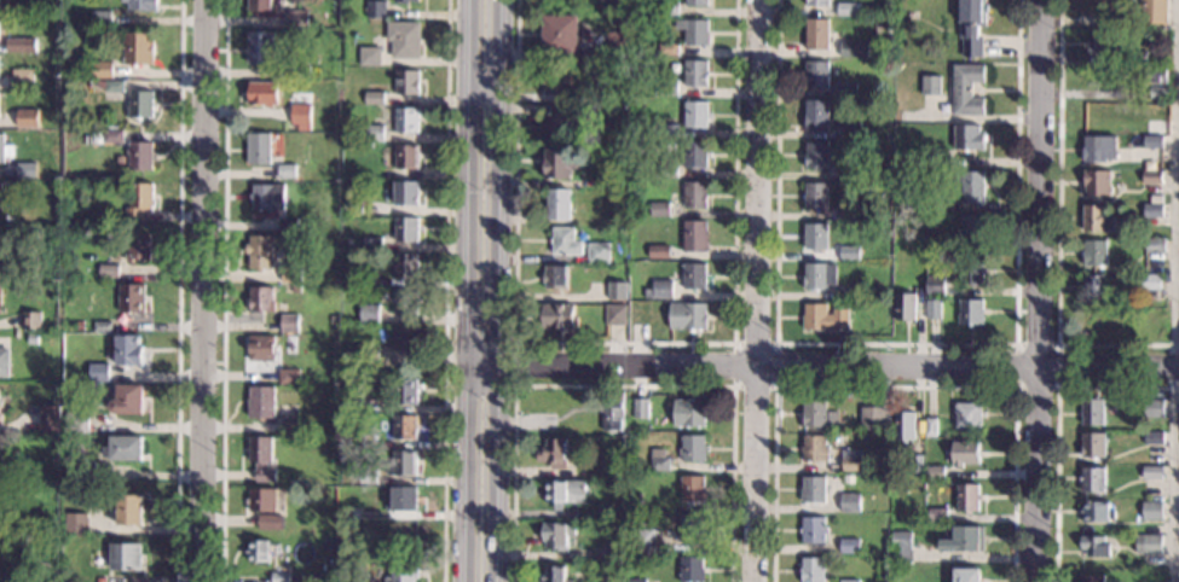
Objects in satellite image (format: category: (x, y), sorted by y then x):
building: (1126, 0)
building: (0, 1)
building: (405, 1)
building: (617, 2)
building: (695, 2)
building: (817, 2)
building: (143, 5)
building: (261, 5)
building: (17, 7)
building: (667, 7)
building: (376, 8)
building: (846, 8)
building: (1151, 11)
building: (102, 18)
building: (300, 18)
building: (971, 25)
building: (880, 29)
building: (694, 31)
building: (560, 34)
building: (817, 34)
building: (405, 39)
building: (1105, 41)
building: (17, 43)
building: (617, 46)
building: (139, 47)
building: (264, 47)
building: (667, 48)
building: (853, 48)
building: (335, 52)
building: (370, 56)
building: (1138, 57)
building: (103, 69)
building: (301, 71)
building: (694, 72)
building: (816, 74)
building: (1152, 74)
building: (559, 76)
building: (23, 78)
building: (408, 82)
building: (110, 85)
building: (931, 85)
building: (665, 87)
building: (966, 89)
building: (1158, 92)
building: (264, 93)
building: (848, 93)
building: (589, 94)
building: (375, 97)
building: (140, 104)
building: (1150, 107)
building: (1099, 112)
building: (301, 114)
building: (695, 114)
building: (816, 115)
building: (28, 117)
building: (408, 120)
building: (556, 122)
building: (664, 130)
building: (849, 130)
building: (374, 132)
building: (112, 135)
building: (967, 136)
building: (619, 139)
building: (1152, 141)
building: (259, 147)
building: (5, 149)
building: (1099, 149)
building: (694, 153)
building: (140, 155)
building: (815, 155)
building: (409, 156)
building: (636, 158)
building: (938, 161)
building: (559, 162)
building: (27, 169)
building: (659, 169)
building: (288, 170)
building: (855, 171)
building: (1151, 176)
building: (617, 179)
building: (637, 181)
building: (677, 182)
building: (1097, 182)
building: (971, 186)
building: (408, 192)
building: (618, 192)
building: (1, 194)
building: (690, 194)
building: (815, 194)
building: (268, 196)
building: (923, 198)
building: (139, 200)
building: (560, 204)
building: (353, 206)
building: (659, 209)
building: (1152, 210)
building: (844, 211)
building: (6, 219)
building: (1097, 219)
building: (288, 223)
building: (971, 227)
building: (406, 228)
road: (1058, 233)
building: (694, 235)
building: (815, 235)
building: (372, 241)
building: (566, 241)
building: (347, 243)
building: (941, 243)
building: (135, 245)
building: (1155, 245)
building: (261, 251)
building: (658, 251)
building: (597, 252)
building: (1094, 252)
building: (851, 254)
building: (406, 264)
building: (108, 269)
building: (972, 269)
building: (293, 273)
building: (557, 275)
building: (694, 275)
building: (819, 275)
building: (370, 279)
building: (1150, 281)
building: (934, 285)
building: (1093, 287)
building: (296, 289)
building: (658, 289)
road: (445, 290)
road: (497, 290)
building: (615, 290)
road: (1041, 290)
road: (180, 291)
road: (204, 291)
road: (224, 291)
road: (468, 291)
road: (757, 291)
building: (846, 292)
building: (1, 297)
building: (132, 297)
building: (262, 298)
building: (406, 302)
building: (903, 305)
building: (932, 309)
building: (971, 312)
building: (369, 313)
building: (614, 314)
building: (559, 315)
building: (686, 315)
building: (823, 318)
building: (1152, 318)
building: (333, 319)
building: (31, 320)
building: (1104, 320)
building: (290, 322)
building: (103, 326)
building: (406, 337)
building: (33, 338)
road: (624, 344)
road: (895, 345)
building: (262, 347)
building: (129, 350)
building: (369, 351)
building: (5, 361)
road: (822, 365)
building: (99, 372)
building: (290, 376)
road: (895, 386)
road: (1057, 386)
road: (501, 388)
road: (623, 388)
road: (774, 388)
building: (406, 391)
building: (827, 397)
building: (128, 398)
building: (262, 401)
building: (351, 401)
building: (0, 403)
building: (640, 407)
building: (1154, 408)
building: (612, 411)
building: (1092, 412)
building: (688, 413)
building: (814, 414)
building: (967, 414)
building: (50, 418)
building: (872, 418)
building: (77, 421)
road: (1057, 424)
building: (903, 425)
building: (930, 426)
building: (290, 427)
building: (405, 427)
building: (571, 430)
building: (1152, 437)
building: (343, 442)
building: (1092, 444)
building: (56, 446)
building: (126, 447)
building: (692, 448)
building: (814, 448)
building: (554, 452)
building: (964, 453)
building: (262, 456)
building: (658, 459)
building: (850, 460)
building: (404, 462)
building: (0, 464)
building: (915, 464)
building: (874, 467)
building: (86, 471)
building: (614, 471)
building: (934, 472)
building: (1151, 472)
building: (369, 476)
building: (848, 479)
building: (1092, 479)
road: (1178, 484)
building: (692, 489)
building: (813, 489)
building: (565, 493)
building: (1, 494)
building: (365, 494)
building: (403, 497)
building: (967, 497)
building: (264, 499)
building: (636, 500)
building: (849, 502)
building: (129, 510)
building: (602, 511)
building: (1151, 511)
building: (349, 512)
building: (1096, 512)
building: (937, 514)
building: (270, 520)
building: (75, 522)
building: (12, 525)
building: (632, 525)
building: (53, 528)
building: (690, 529)
building: (347, 530)
building: (813, 530)
building: (557, 535)
building: (959, 537)
building: (642, 541)
building: (849, 545)
building: (1148, 545)
building: (1094, 546)
building: (901, 547)
building: (261, 551)
building: (613, 553)
building: (125, 557)
building: (690, 570)
building: (811, 570)
building: (403, 571)
building: (555, 574)
building: (966, 575)
building: (281, 576)
building: (7, 577)
building: (359, 577)
building: (1091, 577)
building: (99, 580)
building: (608, 581)
building: (636, 581)
building: (848, 581)

